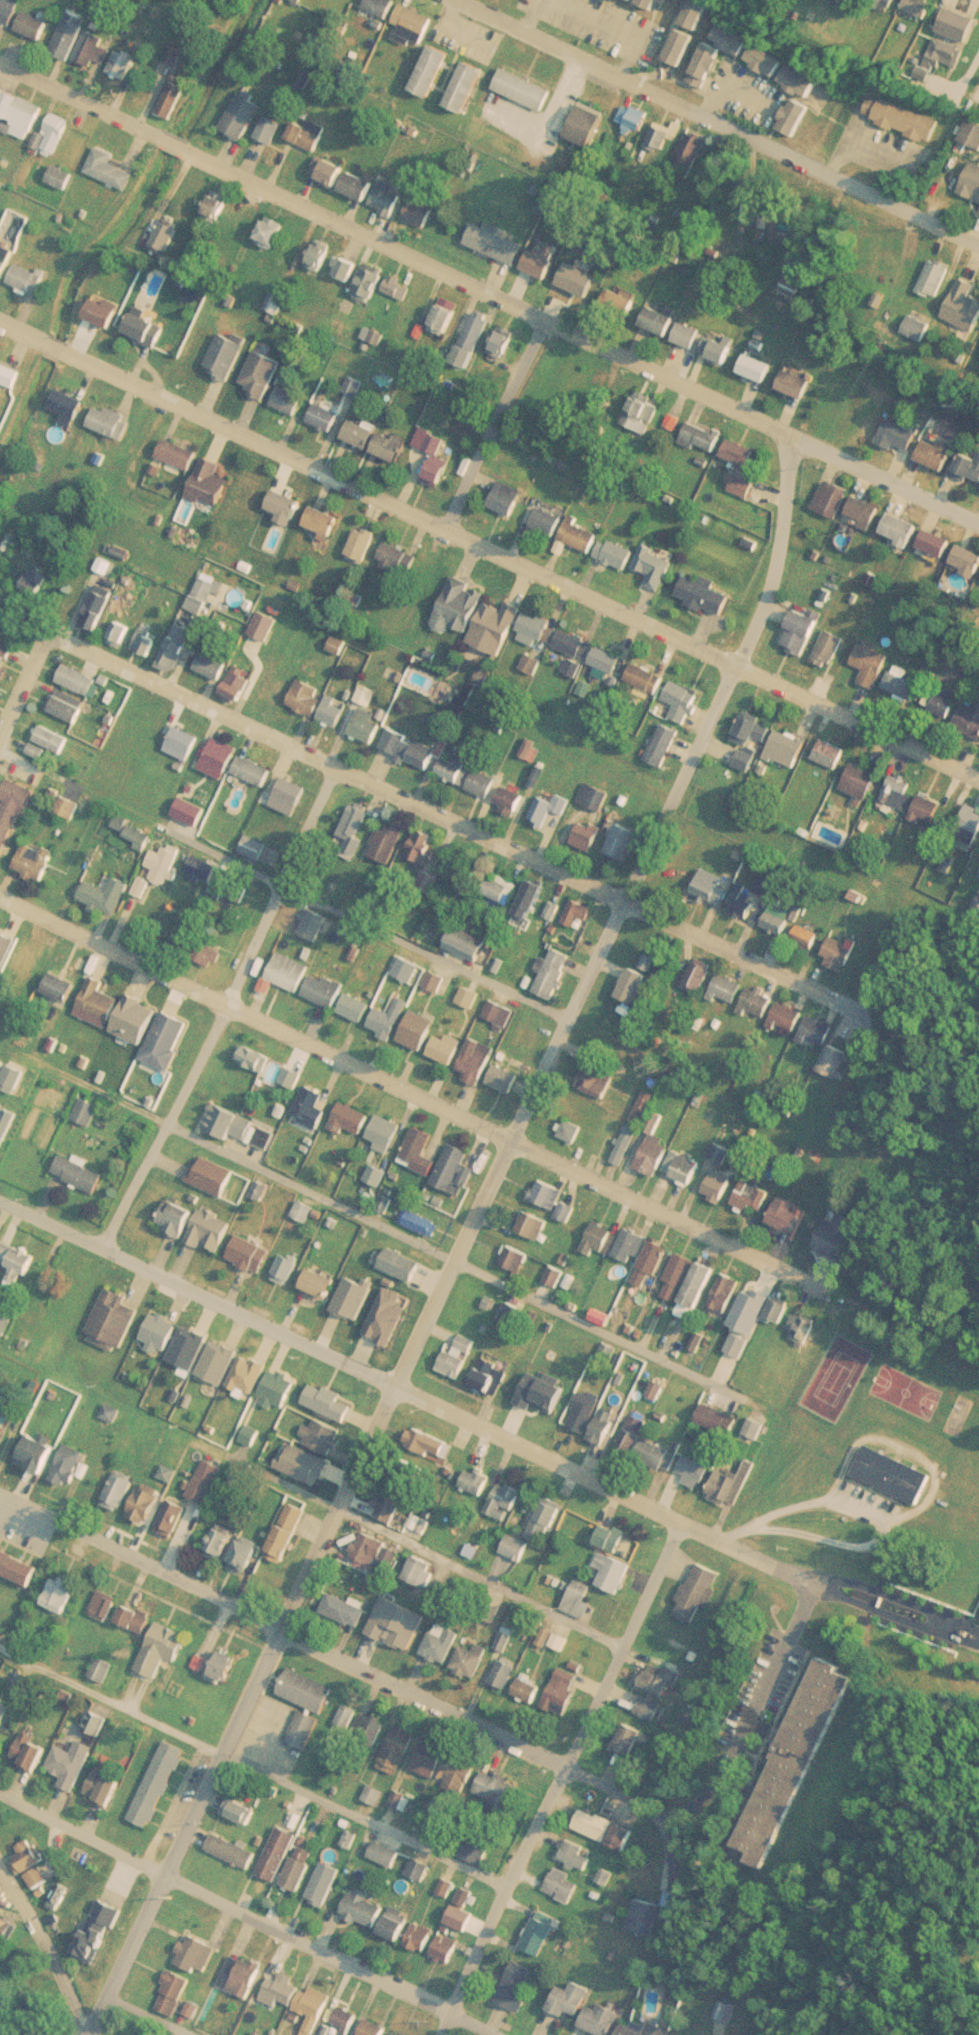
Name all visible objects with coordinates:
building: (299, 0)
building: (888, 2)
building: (650, 3)
building: (381, 6)
building: (920, 6)
building: (9, 9)
building: (696, 12)
building: (414, 20)
building: (34, 25)
building: (70, 34)
building: (733, 39)
building: (680, 46)
building: (96, 49)
building: (946, 52)
building: (766, 60)
building: (706, 65)
building: (122, 66)
building: (431, 70)
road: (978, 78)
building: (800, 81)
building: (466, 86)
building: (524, 89)
road: (87, 99)
building: (173, 99)
building: (20, 112)
building: (242, 114)
building: (795, 116)
building: (902, 117)
building: (636, 120)
road: (723, 124)
building: (586, 125)
building: (271, 127)
building: (972, 131)
building: (55, 134)
building: (307, 134)
building: (662, 137)
road: (178, 142)
building: (692, 153)
building: (110, 168)
building: (328, 172)
building: (972, 181)
building: (358, 185)
building: (388, 197)
building: (216, 206)
building: (416, 212)
building: (271, 232)
building: (162, 236)
building: (496, 242)
building: (320, 255)
building: (5, 258)
building: (541, 262)
building: (345, 268)
building: (936, 277)
building: (28, 279)
building: (369, 284)
building: (399, 288)
building: (617, 303)
building: (964, 305)
building: (103, 311)
building: (444, 320)
building: (660, 321)
building: (145, 329)
building: (343, 329)
road: (580, 335)
building: (688, 335)
road: (19, 336)
building: (475, 336)
building: (502, 344)
road: (44, 348)
building: (717, 350)
building: (225, 356)
building: (757, 367)
building: (10, 373)
building: (261, 374)
building: (797, 384)
building: (289, 401)
building: (68, 407)
building: (646, 409)
road: (484, 416)
building: (324, 417)
building: (112, 422)
building: (902, 433)
building: (361, 434)
building: (703, 436)
building: (390, 447)
building: (740, 453)
building: (938, 453)
building: (178, 455)
building: (435, 463)
building: (968, 467)
building: (210, 484)
building: (742, 485)
building: (506, 499)
building: (832, 500)
building: (285, 507)
building: (865, 510)
building: (549, 520)
building: (323, 522)
building: (902, 528)
building: (581, 536)
building: (936, 542)
building: (362, 545)
building: (617, 554)
road: (516, 557)
building: (398, 558)
building: (968, 559)
building: (656, 565)
building: (36, 588)
building: (205, 592)
building: (705, 594)
building: (462, 604)
building: (98, 607)
building: (496, 627)
building: (537, 627)
building: (801, 631)
building: (121, 633)
building: (573, 643)
building: (147, 644)
building: (830, 649)
building: (607, 660)
building: (4, 661)
building: (872, 662)
building: (212, 665)
building: (646, 678)
building: (79, 680)
road: (25, 682)
building: (904, 684)
building: (237, 687)
building: (367, 694)
building: (308, 698)
building: (680, 701)
building: (940, 702)
building: (67, 706)
building: (334, 710)
building: (969, 722)
building: (367, 726)
building: (752, 731)
building: (53, 739)
building: (184, 743)
building: (664, 746)
building: (410, 748)
building: (787, 749)
building: (832, 754)
building: (220, 758)
building: (747, 760)
building: (254, 770)
building: (468, 776)
building: (861, 781)
building: (901, 793)
building: (290, 797)
building: (595, 797)
building: (512, 802)
building: (69, 807)
building: (549, 810)
building: (928, 810)
building: (191, 811)
building: (13, 813)
road: (461, 822)
building: (354, 825)
building: (969, 829)
building: (141, 835)
building: (588, 836)
building: (623, 842)
building: (388, 844)
building: (422, 847)
building: (36, 861)
building: (207, 869)
building: (161, 870)
building: (429, 882)
road: (282, 885)
building: (713, 887)
building: (502, 888)
building: (768, 888)
building: (107, 896)
building: (532, 899)
building: (977, 909)
building: (554, 910)
building: (578, 913)
building: (778, 923)
building: (316, 926)
building: (808, 939)
building: (468, 944)
building: (5, 950)
building: (840, 953)
building: (26, 960)
building: (650, 963)
building: (290, 972)
building: (554, 973)
building: (700, 977)
building: (438, 980)
building: (634, 986)
building: (60, 989)
building: (729, 989)
building: (325, 990)
building: (470, 997)
building: (100, 999)
building: (759, 1001)
road: (227, 1004)
building: (356, 1007)
building: (502, 1013)
building: (788, 1016)
building: (390, 1018)
building: (136, 1020)
building: (819, 1029)
building: (419, 1030)
building: (167, 1040)
building: (447, 1048)
building: (836, 1061)
building: (478, 1063)
building: (270, 1067)
building: (505, 1078)
building: (597, 1080)
road: (415, 1095)
building: (311, 1109)
building: (350, 1119)
building: (231, 1123)
building: (6, 1125)
building: (635, 1127)
building: (571, 1131)
building: (385, 1134)
building: (264, 1138)
building: (654, 1148)
building: (420, 1152)
building: (722, 1152)
building: (683, 1166)
building: (455, 1171)
building: (80, 1174)
building: (213, 1175)
building: (719, 1185)
building: (548, 1194)
building: (753, 1196)
building: (567, 1212)
building: (788, 1216)
building: (177, 1219)
building: (422, 1223)
building: (533, 1225)
building: (211, 1231)
building: (838, 1235)
building: (601, 1239)
road: (464, 1243)
building: (632, 1245)
building: (251, 1255)
road: (446, 1256)
building: (17, 1258)
building: (517, 1259)
building: (400, 1264)
building: (652, 1264)
building: (286, 1273)
building: (555, 1275)
building: (677, 1278)
building: (320, 1284)
building: (697, 1291)
building: (726, 1293)
building: (354, 1299)
building: (752, 1308)
building: (779, 1310)
building: (109, 1317)
building: (2, 1324)
building: (802, 1329)
building: (160, 1332)
building: (189, 1346)
road: (338, 1348)
building: (609, 1351)
building: (458, 1356)
building: (219, 1360)
building: (250, 1373)
building: (490, 1375)
building: (280, 1386)
building: (537, 1391)
building: (328, 1400)
building: (585, 1411)
building: (717, 1423)
building: (604, 1425)
building: (324, 1435)
building: (633, 1436)
building: (36, 1453)
building: (425, 1454)
building: (657, 1455)
building: (305, 1463)
building: (70, 1465)
building: (696, 1470)
building: (894, 1473)
building: (206, 1481)
building: (477, 1481)
building: (732, 1483)
building: (120, 1489)
building: (506, 1501)
building: (145, 1503)
building: (390, 1504)
building: (272, 1505)
building: (173, 1516)
building: (546, 1518)
building: (420, 1524)
building: (287, 1532)
building: (612, 1537)
road: (743, 1538)
building: (219, 1542)
road: (425, 1546)
building: (376, 1553)
building: (245, 1554)
building: (512, 1554)
building: (422, 1570)
building: (613, 1572)
road: (897, 1588)
building: (699, 1591)
building: (60, 1592)
building: (580, 1599)
building: (105, 1604)
road: (893, 1604)
building: (345, 1611)
building: (135, 1617)
building: (443, 1642)
building: (163, 1647)
road: (334, 1658)
building: (472, 1660)
building: (224, 1666)
building: (505, 1673)
building: (662, 1677)
building: (25, 1682)
building: (528, 1687)
building: (307, 1690)
building: (562, 1692)
road: (757, 1704)
building: (647, 1706)
building: (3, 1716)
building: (348, 1716)
building: (304, 1729)
building: (370, 1729)
building: (629, 1739)
building: (399, 1749)
building: (31, 1751)
building: (794, 1762)
building: (72, 1763)
building: (449, 1764)
road: (254, 1768)
road: (563, 1775)
building: (159, 1784)
building: (105, 1785)
building: (497, 1791)
building: (375, 1794)
building: (401, 1800)
building: (240, 1811)
building: (605, 1829)
building: (478, 1847)
building: (233, 1850)
building: (386, 1852)
building: (279, 1853)
building: (578, 1854)
building: (27, 1857)
building: (300, 1867)
building: (419, 1869)
building: (39, 1877)
building: (324, 1883)
building: (563, 1884)
building: (448, 1886)
building: (4, 1895)
building: (60, 1896)
building: (466, 1896)
building: (363, 1907)
road: (246, 1914)
building: (646, 1917)
building: (395, 1923)
building: (97, 1935)
building: (421, 1936)
building: (539, 1936)
road: (47, 1947)
building: (446, 1947)
building: (197, 1952)
building: (246, 1975)
building: (0, 1981)
building: (516, 1986)
building: (282, 1988)
building: (173, 1991)
building: (571, 1999)
building: (314, 2006)
building: (727, 2011)
building: (345, 2017)
road: (142, 2018)
building: (601, 2019)
building: (373, 2028)
building: (642, 2029)
building: (398, 2033)

